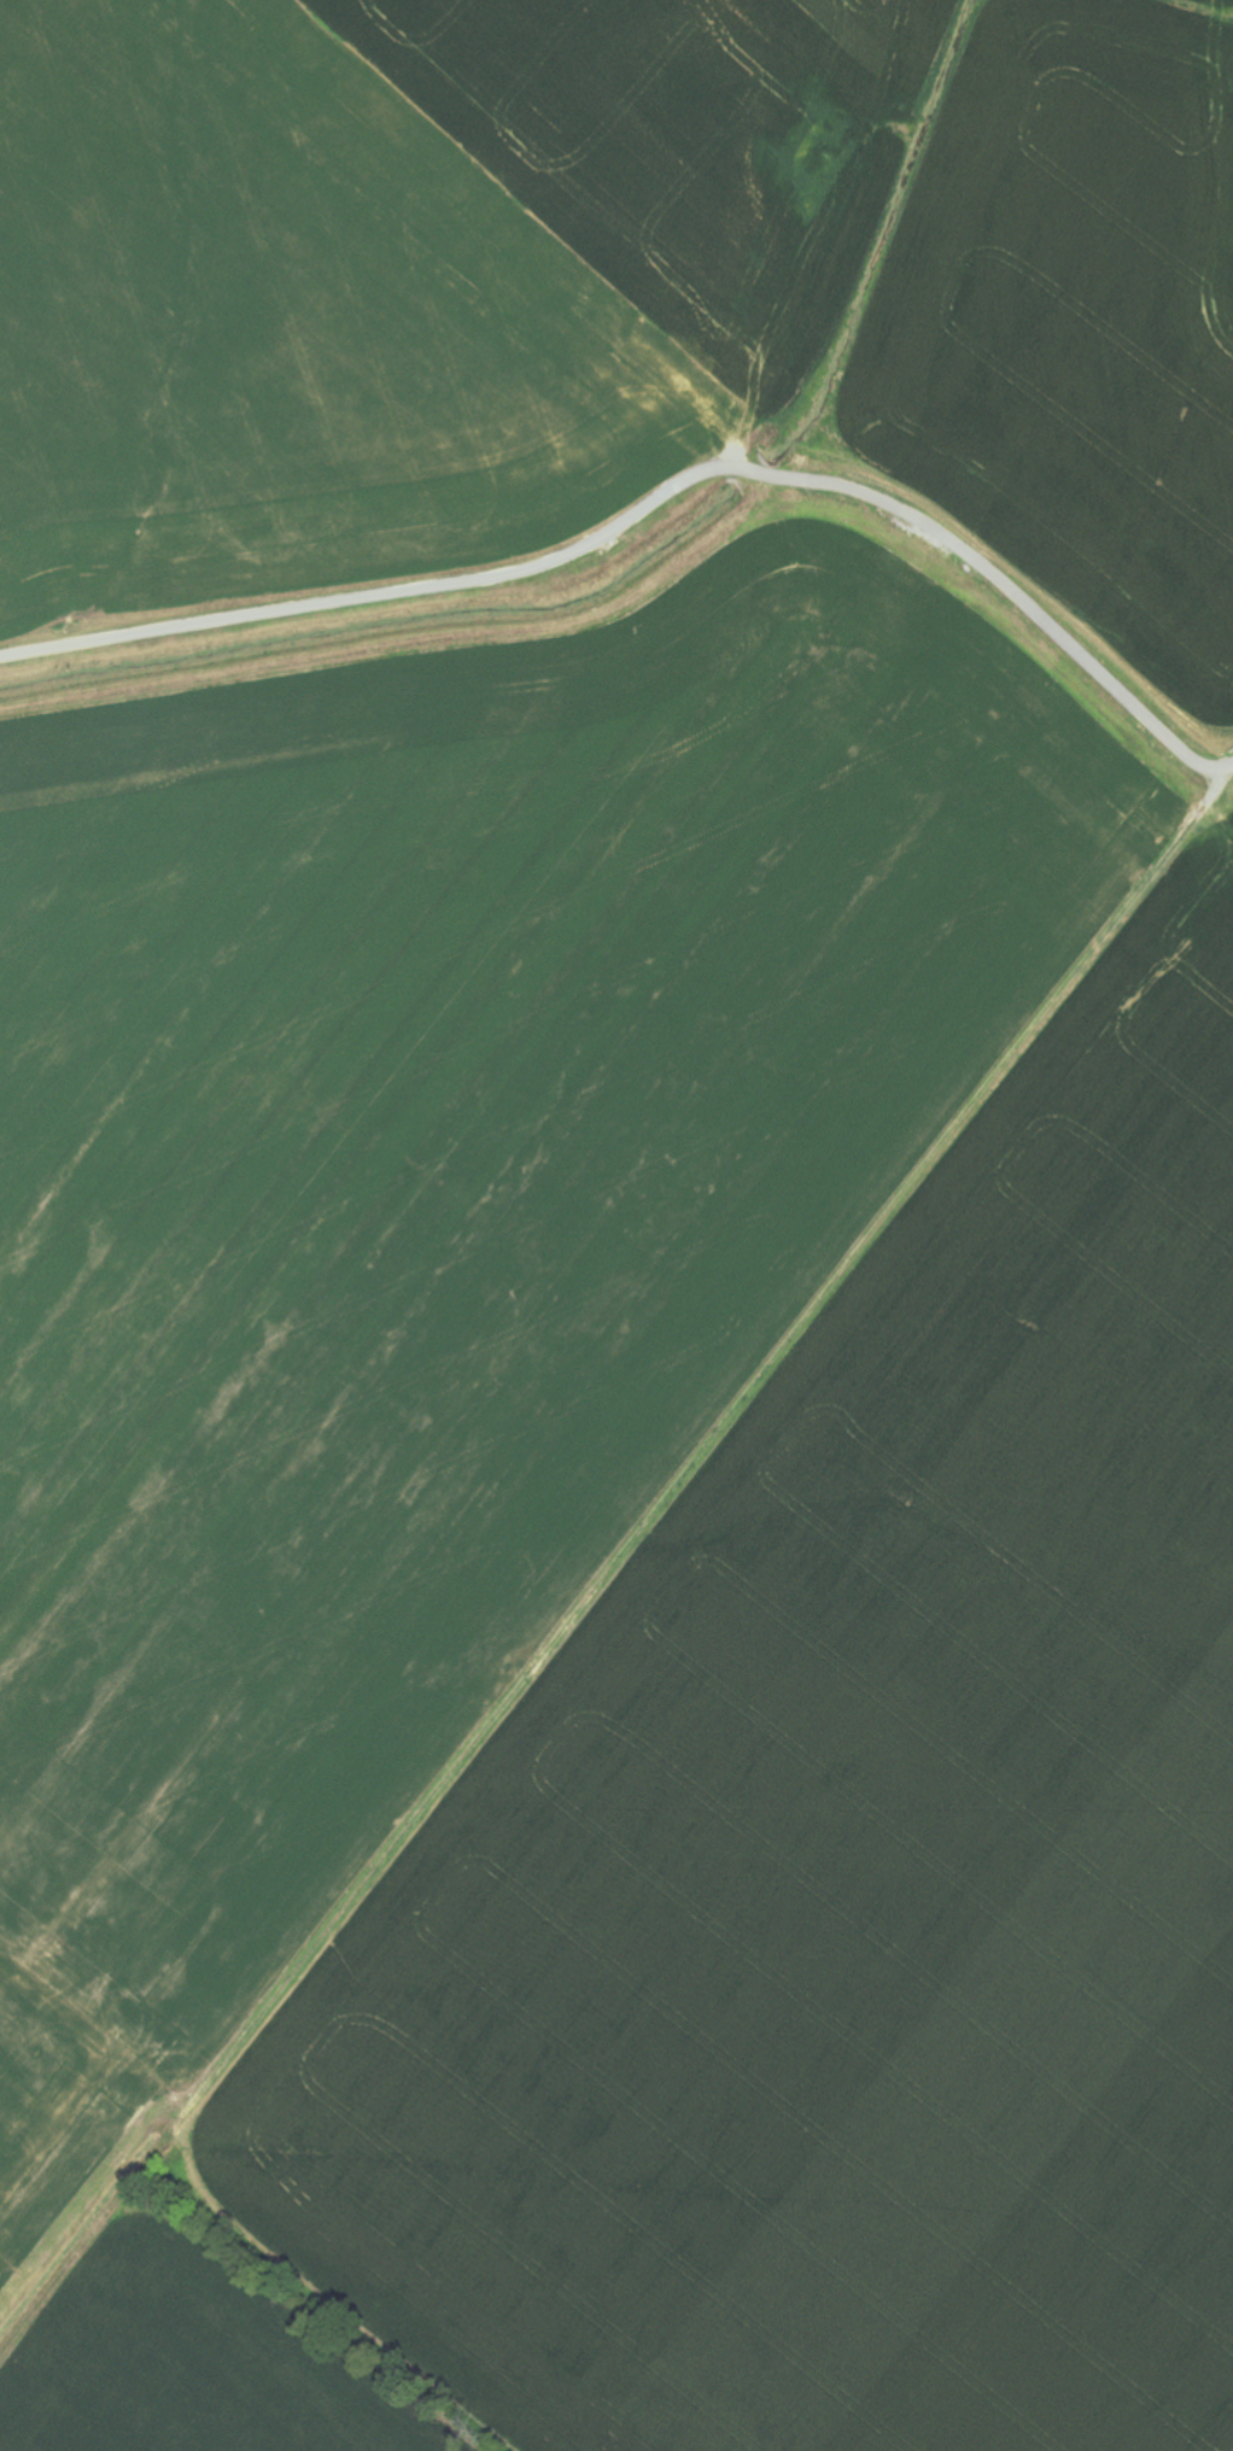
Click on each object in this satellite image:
road: (656, 499)
road: (604, 1560)

